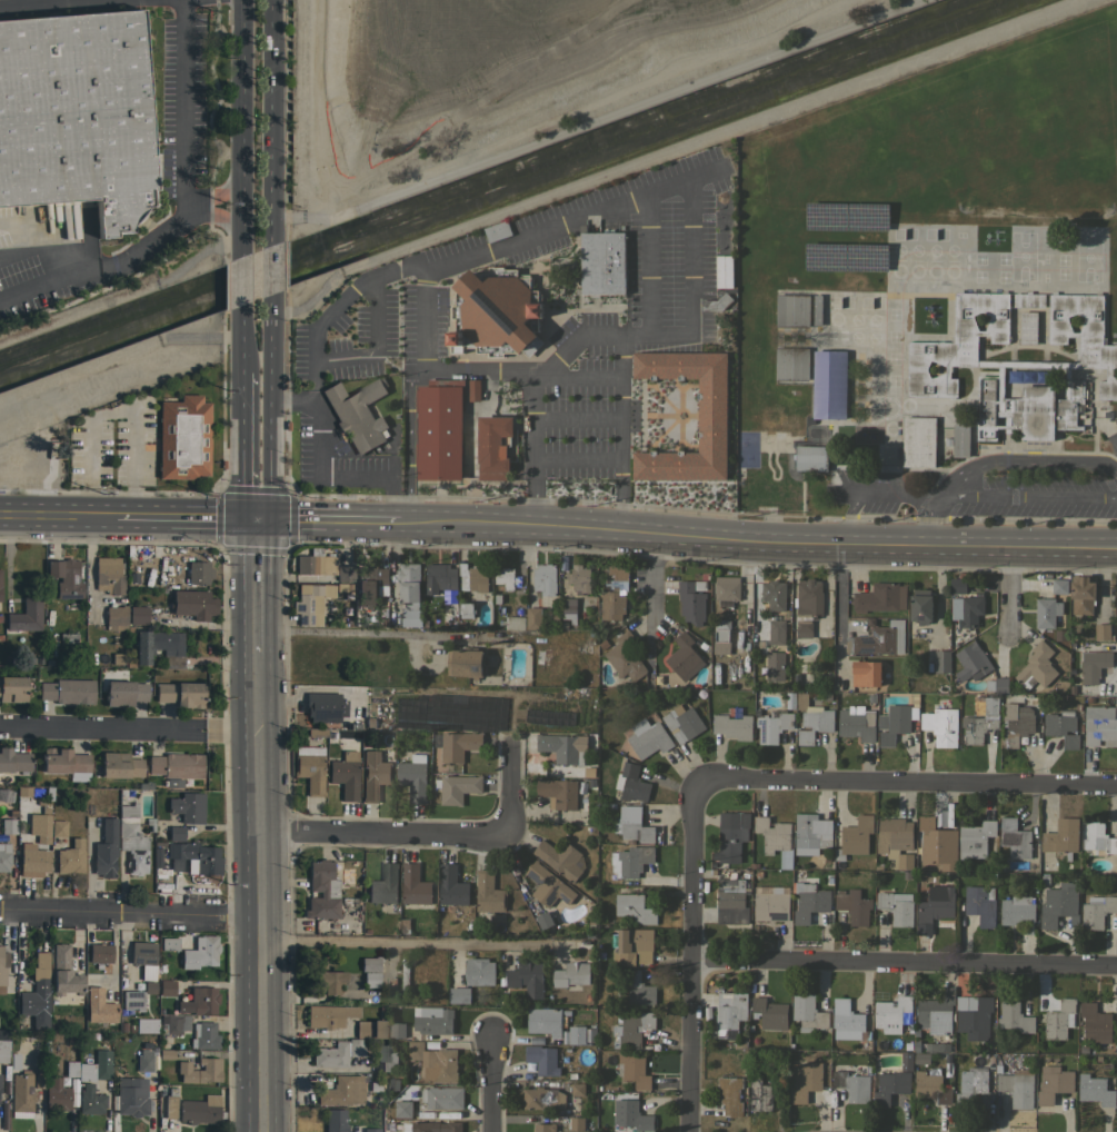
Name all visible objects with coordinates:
road: (67, 4)
quarry: (428, 59)
building: (76, 115)
road: (271, 123)
road: (242, 129)
road: (222, 197)
road: (196, 208)
road: (186, 210)
road: (222, 215)
building: (497, 230)
road: (650, 258)
building: (602, 262)
road: (380, 269)
road: (271, 271)
building: (724, 271)
road: (241, 281)
building: (716, 302)
building: (497, 310)
building: (792, 310)
building: (817, 310)
building: (1028, 327)
road: (681, 329)
road: (241, 339)
building: (1017, 363)
building: (791, 364)
road: (431, 368)
building: (829, 384)
building: (473, 389)
road: (270, 408)
road: (116, 411)
building: (357, 414)
building: (711, 415)
building: (779, 423)
building: (439, 430)
road: (620, 431)
building: (183, 438)
building: (918, 440)
building: (960, 440)
road: (242, 447)
building: (491, 449)
road: (532, 451)
building: (811, 458)
road: (998, 461)
road: (1027, 495)
road: (871, 496)
road: (57, 513)
road: (184, 516)
traffic signals: (256, 518)
road: (326, 520)
road: (756, 539)
building: (321, 567)
building: (197, 572)
building: (109, 575)
building: (64, 577)
building: (440, 577)
building: (505, 577)
building: (472, 578)
building: (579, 578)
building: (545, 579)
road: (256, 584)
building: (370, 585)
road: (651, 585)
building: (1059, 585)
building: (727, 590)
building: (409, 593)
road: (1006, 593)
building: (772, 594)
building: (1083, 594)
building: (880, 597)
building: (614, 598)
building: (691, 600)
building: (310, 603)
building: (965, 603)
building: (193, 604)
building: (807, 606)
building: (920, 606)
building: (447, 607)
road: (839, 608)
building: (465, 609)
building: (569, 609)
building: (1047, 612)
building: (26, 615)
building: (138, 615)
building: (116, 617)
building: (533, 617)
building: (512, 623)
road: (383, 632)
building: (777, 632)
building: (1101, 632)
building: (879, 639)
building: (157, 644)
building: (542, 654)
building: (684, 656)
building: (625, 657)
building: (941, 661)
building: (465, 662)
building: (971, 662)
building: (1094, 664)
building: (775, 665)
building: (1037, 667)
building: (866, 673)
building: (997, 685)
building: (12, 688)
building: (68, 691)
building: (124, 693)
building: (180, 694)
building: (322, 706)
building: (547, 718)
building: (811, 719)
building: (980, 719)
building: (895, 722)
building: (682, 723)
building: (857, 723)
building: (1016, 724)
building: (941, 725)
building: (732, 726)
building: (772, 726)
building: (1100, 726)
building: (1061, 727)
road: (128, 731)
building: (317, 732)
building: (648, 737)
building: (457, 744)
building: (562, 747)
building: (14, 761)
building: (66, 763)
building: (120, 765)
building: (176, 765)
building: (310, 767)
building: (373, 774)
building: (413, 776)
building: (345, 777)
road: (911, 782)
building: (631, 783)
building: (457, 787)
building: (558, 792)
building: (6, 795)
building: (188, 806)
building: (947, 820)
building: (43, 822)
building: (632, 824)
building: (8, 826)
building: (58, 827)
building: (176, 833)
road: (429, 833)
building: (772, 834)
building: (809, 834)
building: (855, 836)
building: (1061, 836)
building: (1014, 837)
building: (131, 838)
building: (731, 838)
building: (975, 838)
building: (895, 840)
building: (1097, 840)
building: (937, 843)
building: (106, 848)
building: (4, 857)
building: (71, 857)
building: (195, 857)
building: (561, 858)
building: (34, 860)
building: (630, 861)
building: (383, 885)
building: (415, 885)
building: (451, 885)
building: (547, 886)
road: (260, 891)
building: (322, 891)
building: (488, 895)
building: (730, 902)
building: (809, 902)
building: (1058, 903)
building: (980, 904)
building: (854, 905)
building: (770, 906)
building: (896, 906)
building: (934, 906)
building: (635, 908)
building: (1018, 911)
building: (1097, 911)
road: (130, 915)
building: (169, 943)
road: (413, 944)
building: (632, 946)
road: (688, 950)
building: (100, 953)
building: (201, 953)
building: (143, 959)
building: (370, 963)
road: (902, 964)
building: (2, 969)
building: (479, 971)
building: (64, 972)
building: (571, 974)
building: (527, 976)
building: (370, 979)
building: (405, 980)
building: (329, 981)
building: (36, 987)
building: (166, 987)
building: (638, 989)
building: (459, 995)
building: (132, 1000)
building: (199, 1001)
building: (98, 1006)
building: (730, 1011)
building: (936, 1012)
building: (770, 1013)
building: (808, 1013)
building: (891, 1013)
building: (325, 1016)
building: (1015, 1017)
building: (975, 1019)
building: (1059, 1019)
building: (432, 1020)
building: (546, 1020)
building: (847, 1021)
building: (173, 1023)
building: (1095, 1023)
building: (146, 1025)
building: (369, 1029)
building: (396, 1030)
building: (632, 1030)
building: (1116, 1031)
building: (576, 1034)
building: (206, 1035)
building: (937, 1046)
building: (356, 1047)
building: (3, 1050)
building: (330, 1055)
building: (386, 1056)
building: (921, 1057)
building: (542, 1059)
building: (144, 1061)
building: (433, 1062)
building: (902, 1063)
building: (87, 1068)
building: (632, 1069)
building: (200, 1070)
building: (103, 1071)
building: (0, 1080)
building: (805, 1080)
building: (1054, 1083)
building: (930, 1085)
building: (970, 1085)
road: (492, 1086)
building: (890, 1086)
building: (1017, 1086)
building: (577, 1089)
building: (343, 1090)
building: (854, 1090)
building: (1095, 1090)
building: (765, 1092)
building: (22, 1094)
building: (56, 1094)
building: (729, 1094)
building: (442, 1096)
building: (132, 1098)
building: (543, 1099)
building: (96, 1103)
building: (170, 1103)
building: (402, 1109)
building: (199, 1110)
building: (632, 1115)
building: (335, 1121)
building: (576, 1123)
building: (431, 1126)
building: (543, 1128)
building: (371, 1130)

